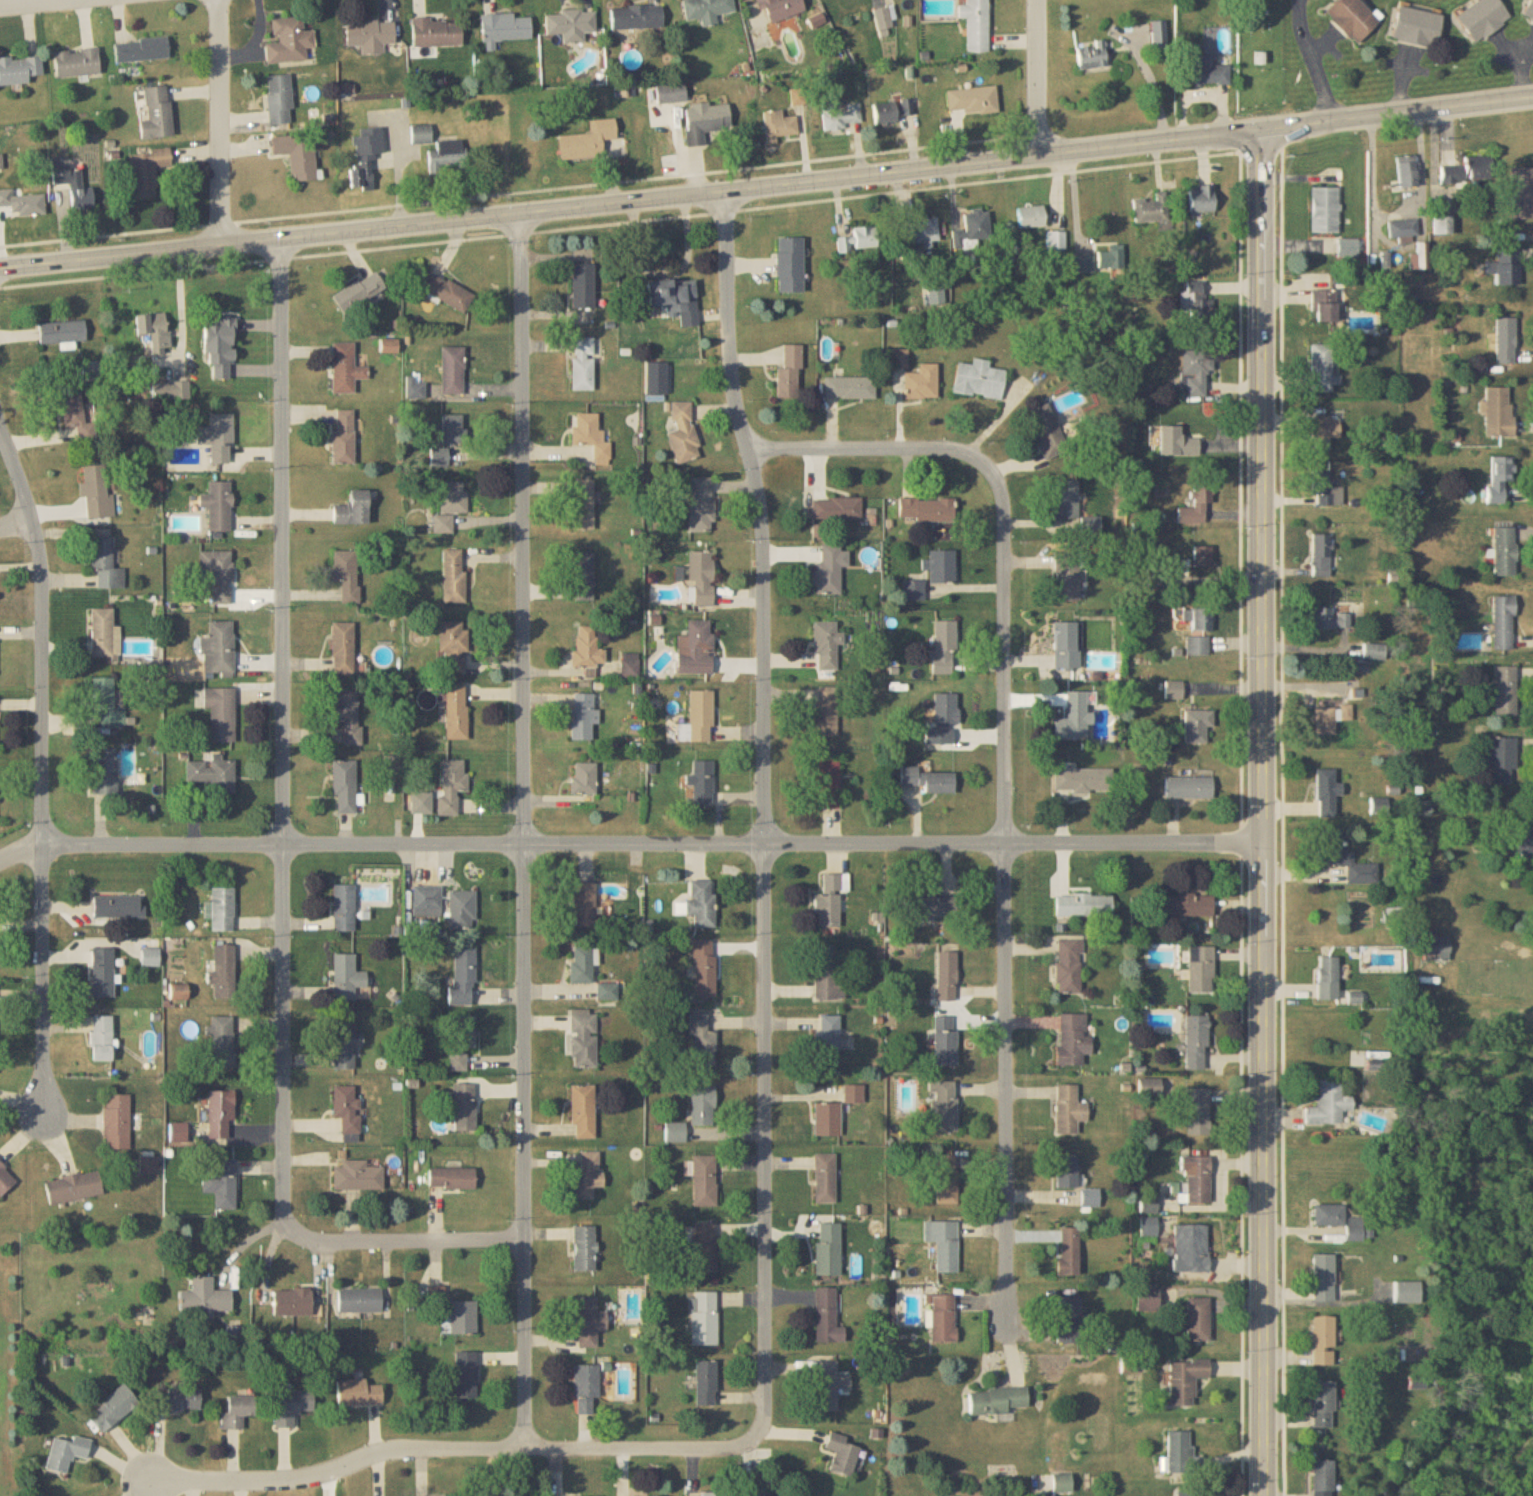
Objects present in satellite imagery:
road: (28, 2)
building: (780, 9)
building: (708, 10)
building: (1529, 12)
building: (637, 17)
building: (884, 18)
building: (1354, 18)
building: (1484, 18)
building: (571, 24)
building: (977, 25)
building: (507, 28)
building: (1419, 28)
building: (437, 32)
building: (370, 35)
building: (1160, 36)
building: (290, 42)
building: (142, 49)
park: (1263, 54)
building: (1093, 56)
road: (1313, 60)
building: (77, 63)
building: (19, 70)
building: (1210, 73)
road: (1035, 76)
building: (279, 100)
building: (973, 100)
road: (1396, 112)
building: (157, 113)
building: (893, 114)
building: (841, 116)
road: (219, 120)
building: (706, 121)
building: (780, 124)
building: (421, 134)
building: (588, 141)
building: (298, 155)
building: (448, 155)
building: (365, 157)
building: (1469, 170)
building: (147, 171)
building: (1407, 173)
road: (629, 175)
building: (73, 184)
building: (1522, 193)
road: (630, 199)
building: (1203, 200)
building: (22, 204)
building: (1152, 209)
building: (1325, 210)
road: (1398, 215)
road: (621, 218)
building: (1032, 218)
building: (1404, 226)
building: (976, 228)
road: (109, 230)
building: (919, 232)
building: (859, 240)
building: (1349, 248)
building: (1112, 258)
building: (1083, 264)
building: (790, 265)
building: (1507, 266)
building: (584, 285)
building: (359, 292)
building: (447, 292)
building: (676, 300)
building: (1325, 307)
building: (1202, 311)
building: (154, 331)
building: (62, 332)
building: (1506, 341)
building: (899, 358)
building: (584, 364)
building: (345, 368)
building: (1323, 368)
building: (452, 370)
building: (91, 372)
building: (1197, 372)
building: (791, 373)
building: (657, 378)
building: (979, 380)
building: (921, 385)
building: (850, 388)
building: (415, 389)
building: (171, 391)
building: (1499, 412)
building: (75, 413)
building: (454, 430)
building: (1048, 431)
building: (1326, 431)
building: (684, 434)
building: (591, 437)
building: (218, 438)
building: (344, 438)
building: (1177, 443)
building: (440, 457)
building: (1500, 477)
building: (1327, 490)
building: (97, 493)
building: (1067, 500)
building: (701, 504)
building: (218, 505)
building: (451, 505)
building: (584, 505)
building: (1199, 505)
building: (837, 508)
building: (353, 509)
building: (927, 509)
road: (15, 521)
building: (1506, 551)
building: (1323, 555)
building: (1204, 557)
building: (106, 564)
building: (943, 566)
building: (830, 569)
building: (347, 574)
building: (219, 575)
building: (454, 576)
building: (583, 576)
building: (1067, 576)
building: (702, 578)
building: (1157, 580)
building: (1200, 619)
building: (1331, 619)
building: (1504, 623)
building: (103, 632)
building: (1066, 645)
building: (453, 646)
building: (827, 646)
building: (1198, 646)
building: (944, 647)
building: (343, 648)
building: (697, 648)
building: (588, 649)
building: (219, 650)
building: (1374, 653)
building: (1175, 690)
building: (1505, 691)
building: (107, 704)
building: (947, 709)
building: (457, 711)
building: (827, 711)
building: (221, 713)
building: (349, 714)
building: (584, 715)
building: (699, 718)
building: (1074, 718)
building: (1326, 720)
building: (1199, 726)
building: (935, 736)
road: (282, 742)
building: (1502, 762)
building: (105, 771)
road: (41, 773)
building: (214, 774)
building: (585, 779)
building: (931, 779)
building: (1085, 780)
building: (453, 784)
building: (829, 784)
road: (1005, 784)
building: (345, 787)
building: (1190, 787)
building: (1328, 792)
road: (1261, 812)
road: (765, 813)
road: (1245, 821)
road: (523, 828)
road: (629, 843)
building: (1345, 859)
building: (831, 901)
building: (428, 902)
building: (703, 903)
building: (585, 905)
building: (1085, 906)
building: (1186, 906)
building: (118, 907)
building: (931, 907)
building: (344, 908)
building: (223, 910)
building: (463, 910)
building: (1437, 946)
building: (1070, 968)
building: (705, 970)
building: (1202, 970)
building: (224, 972)
building: (588, 973)
building: (830, 973)
building: (103, 974)
building: (464, 976)
building: (947, 977)
building: (347, 978)
building: (1329, 979)
building: (103, 1039)
building: (585, 1040)
building: (1074, 1040)
building: (703, 1041)
building: (829, 1041)
building: (223, 1042)
building: (946, 1042)
building: (1198, 1043)
building: (462, 1044)
building: (346, 1045)
building: (855, 1095)
building: (1330, 1104)
building: (703, 1107)
building: (945, 1107)
building: (464, 1108)
building: (348, 1109)
building: (1069, 1111)
building: (1199, 1111)
building: (584, 1112)
building: (221, 1115)
building: (828, 1120)
building: (117, 1122)
building: (677, 1133)
building: (1066, 1172)
building: (358, 1177)
building: (588, 1177)
building: (452, 1179)
building: (825, 1179)
building: (947, 1179)
building: (1198, 1179)
building: (6, 1181)
building: (705, 1181)
building: (222, 1183)
building: (74, 1188)
building: (1091, 1197)
building: (1330, 1214)
building: (1357, 1228)
road: (412, 1241)
building: (944, 1244)
building: (585, 1247)
building: (706, 1247)
building: (1191, 1247)
building: (829, 1249)
building: (1070, 1251)
building: (1324, 1278)
building: (1408, 1292)
building: (438, 1293)
building: (206, 1297)
building: (1149, 1298)
building: (360, 1300)
building: (293, 1302)
building: (464, 1317)
building: (827, 1317)
building: (943, 1317)
building: (704, 1318)
building: (1198, 1319)
building: (1069, 1320)
building: (588, 1321)
building: (1324, 1340)
building: (466, 1375)
building: (1186, 1379)
building: (706, 1383)
building: (830, 1384)
building: (586, 1389)
building: (359, 1392)
building: (177, 1399)
building: (996, 1400)
building: (1324, 1404)
building: (294, 1406)
building: (113, 1408)
building: (238, 1411)
road: (438, 1447)
building: (1180, 1451)
building: (66, 1453)
building: (843, 1453)
building: (1324, 1478)
building: (1063, 1483)
building: (1190, 1492)
building: (708, 1493)

